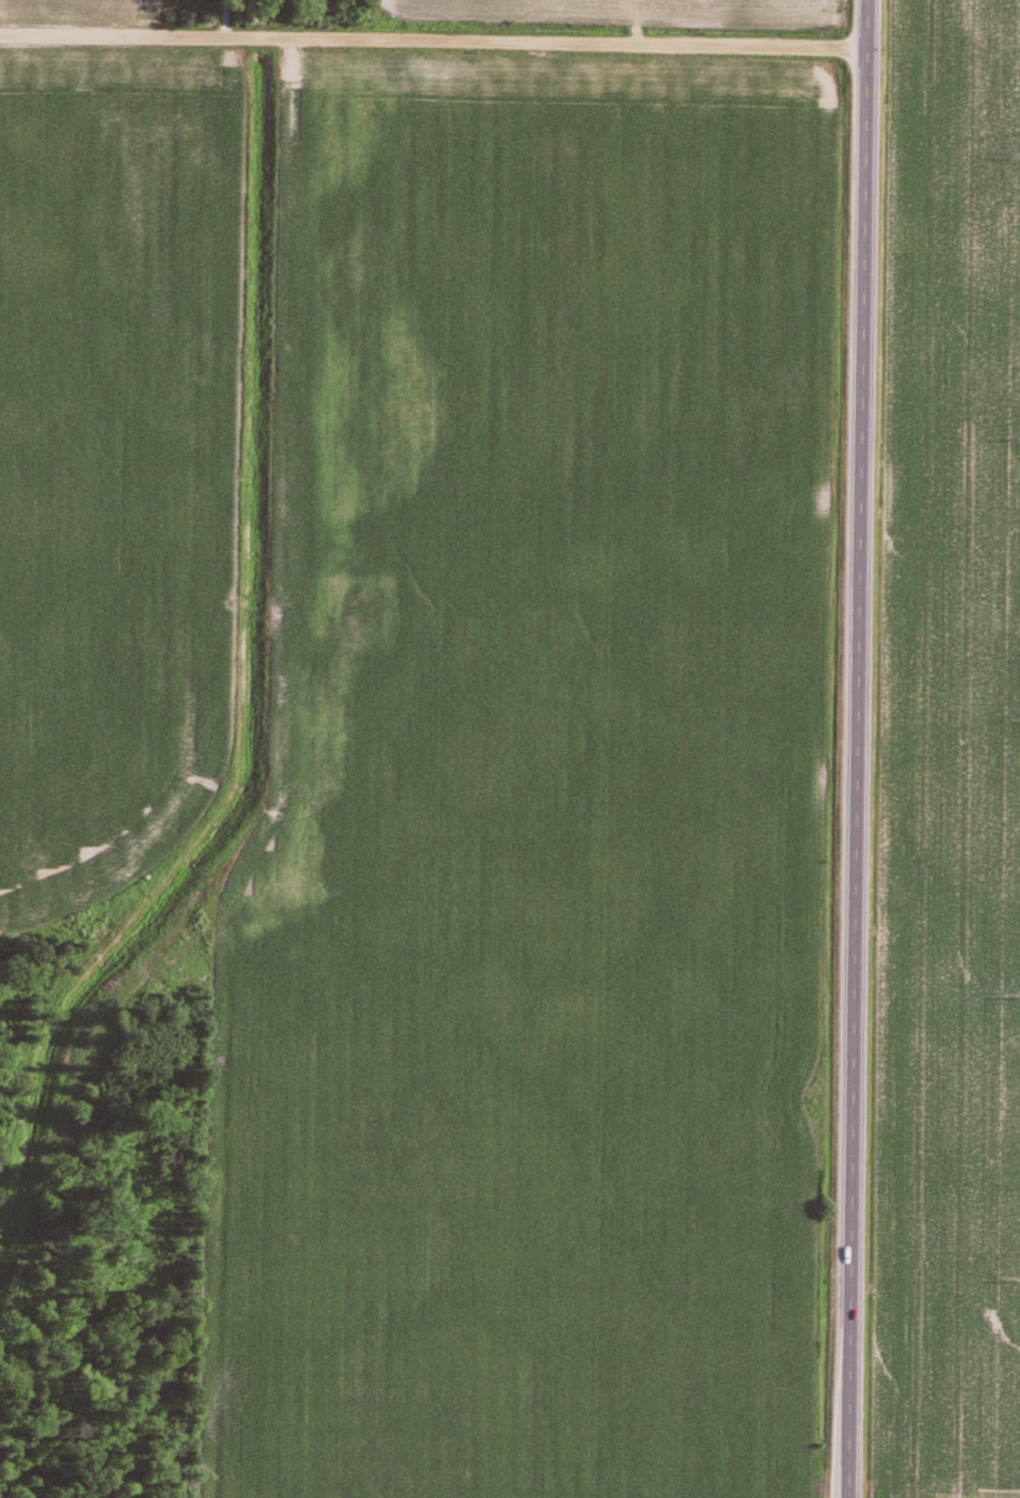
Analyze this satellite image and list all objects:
road: (434, 45)
road: (864, 748)

